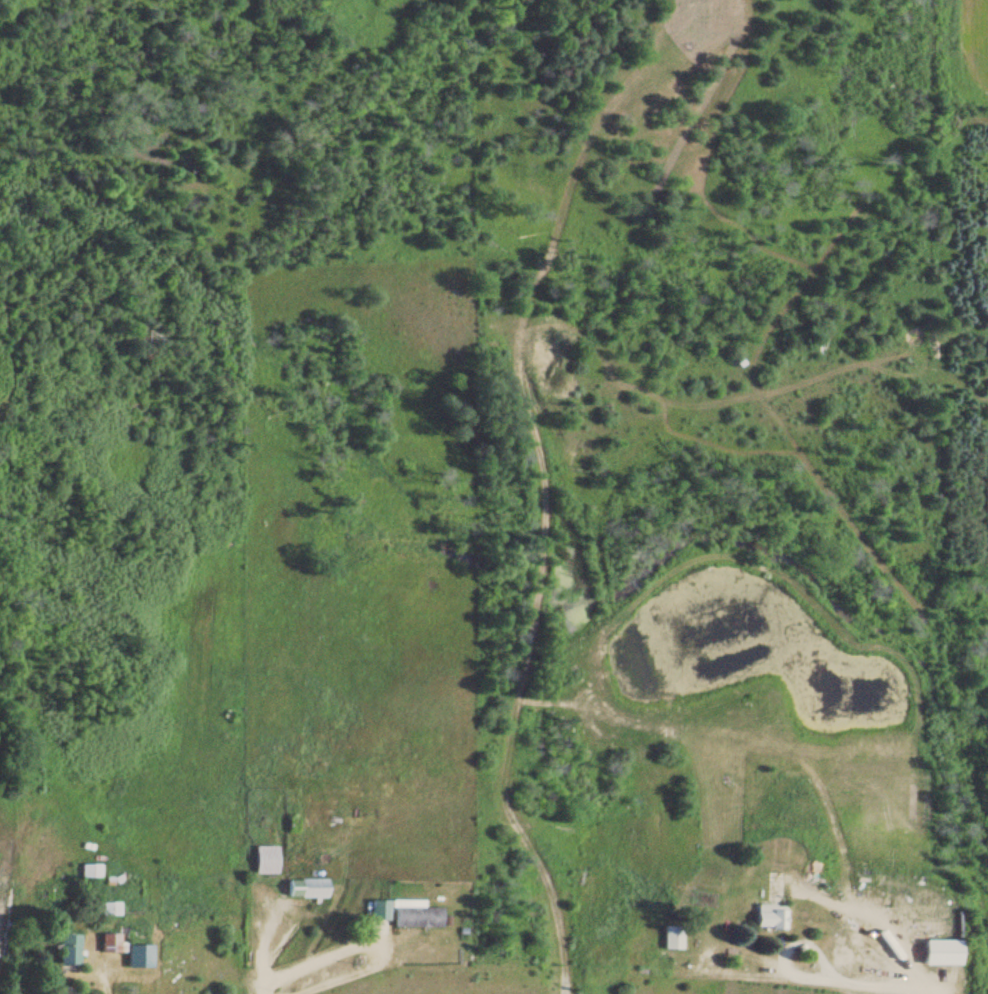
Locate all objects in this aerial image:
crop: (961, 47)
building: (266, 861)
building: (90, 871)
building: (307, 889)
building: (109, 909)
building: (378, 910)
building: (414, 915)
building: (769, 919)
building: (120, 940)
building: (67, 950)

